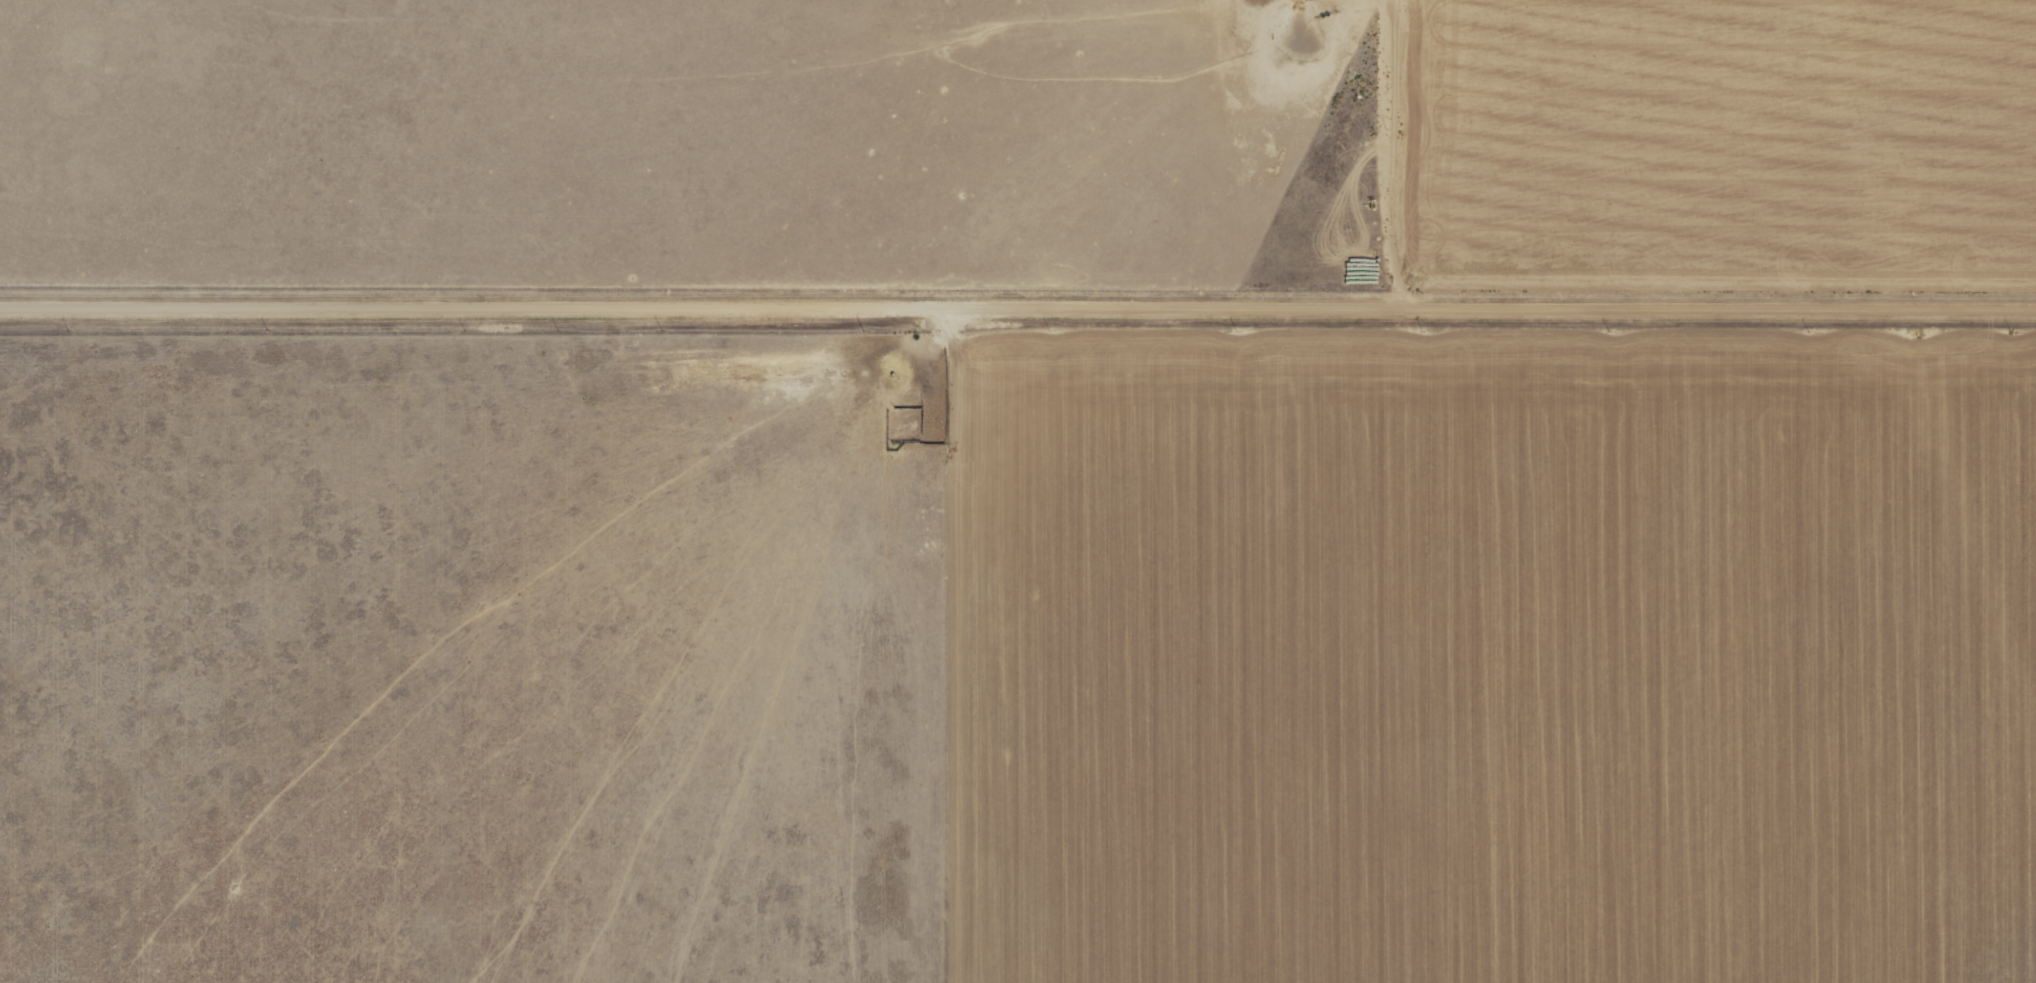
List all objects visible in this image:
road: (1399, 155)
road: (1017, 310)

